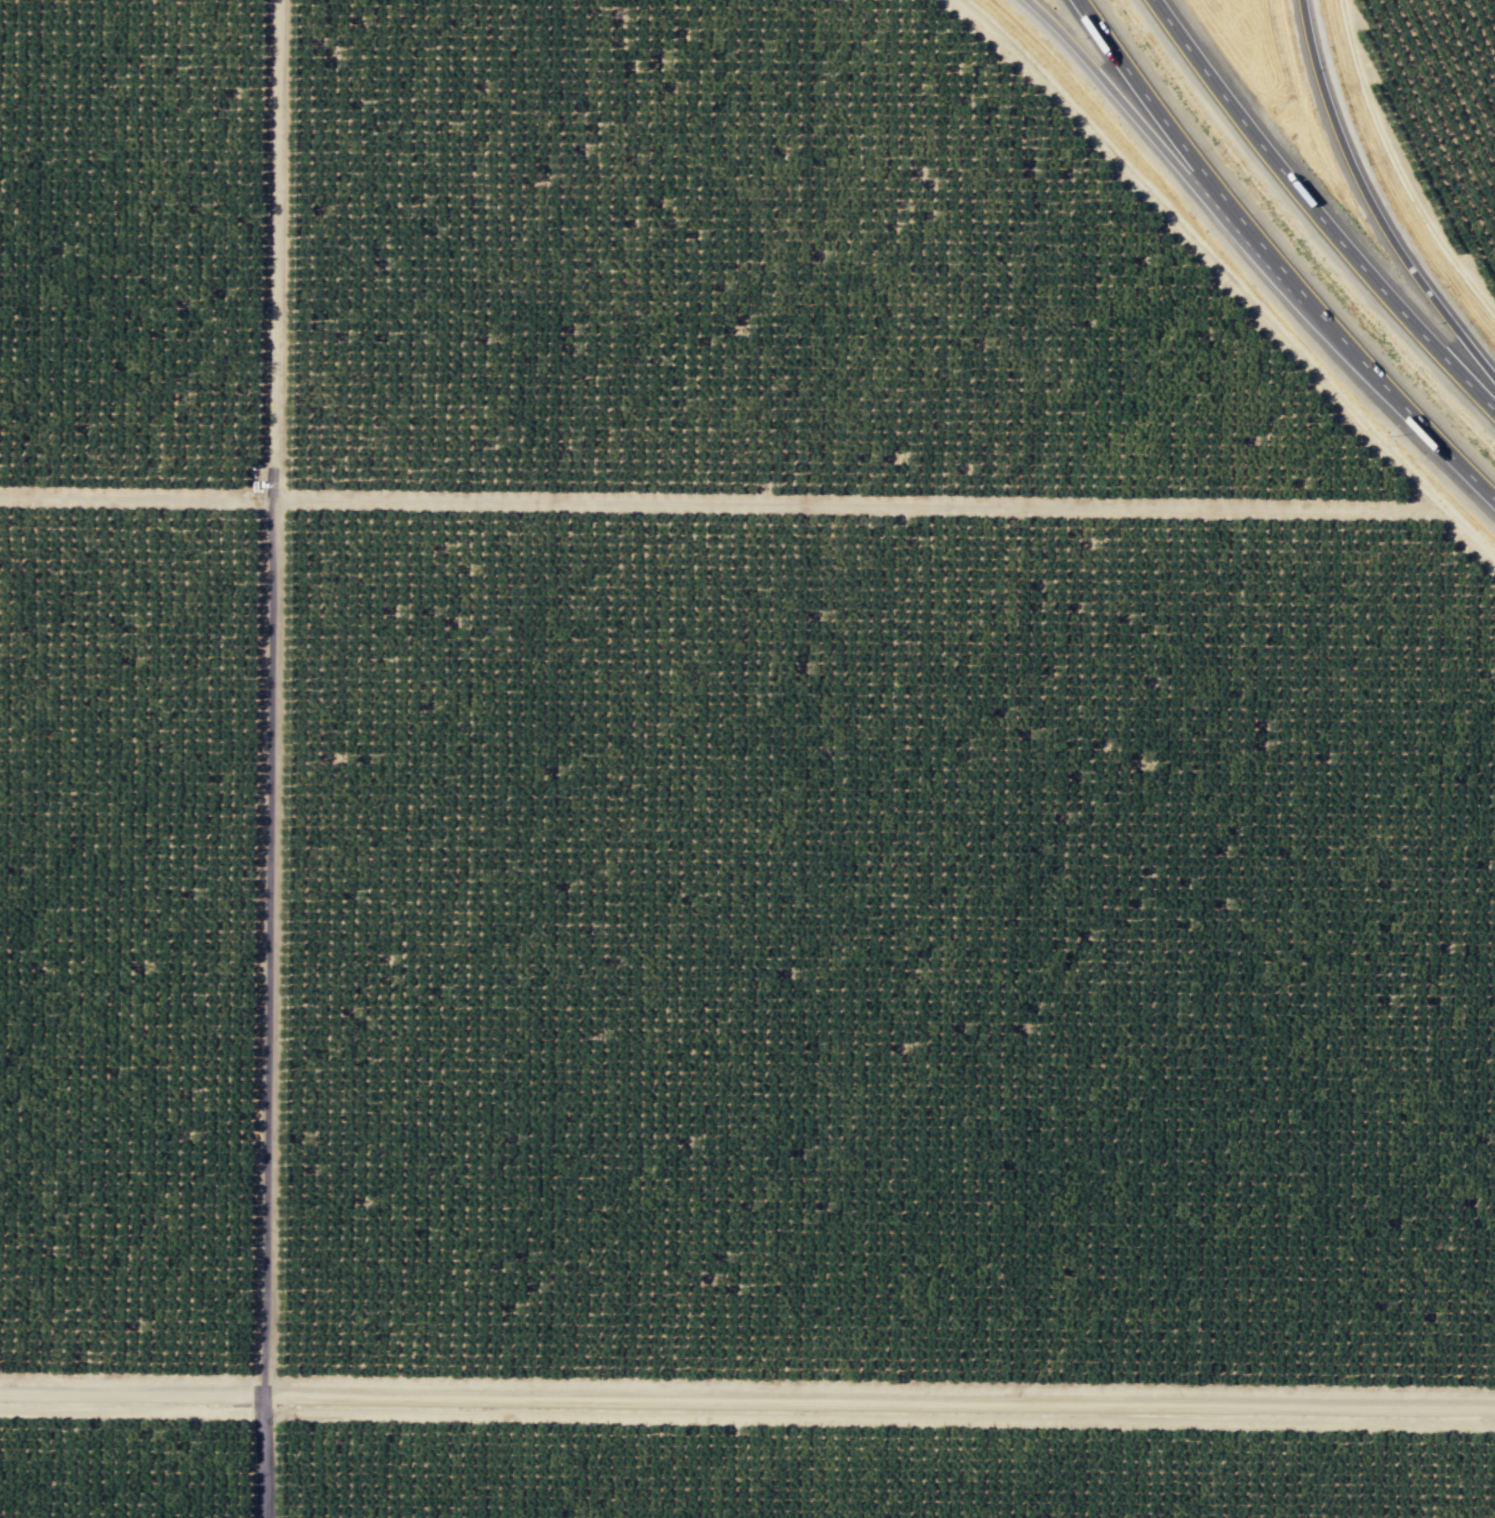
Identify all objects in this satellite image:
road: (1179, 164)
road: (1372, 199)
road: (1320, 207)
road: (1278, 255)
road: (1225, 277)
road: (135, 497)
road: (857, 503)
road: (269, 697)
road: (747, 1401)
road: (260, 1456)

